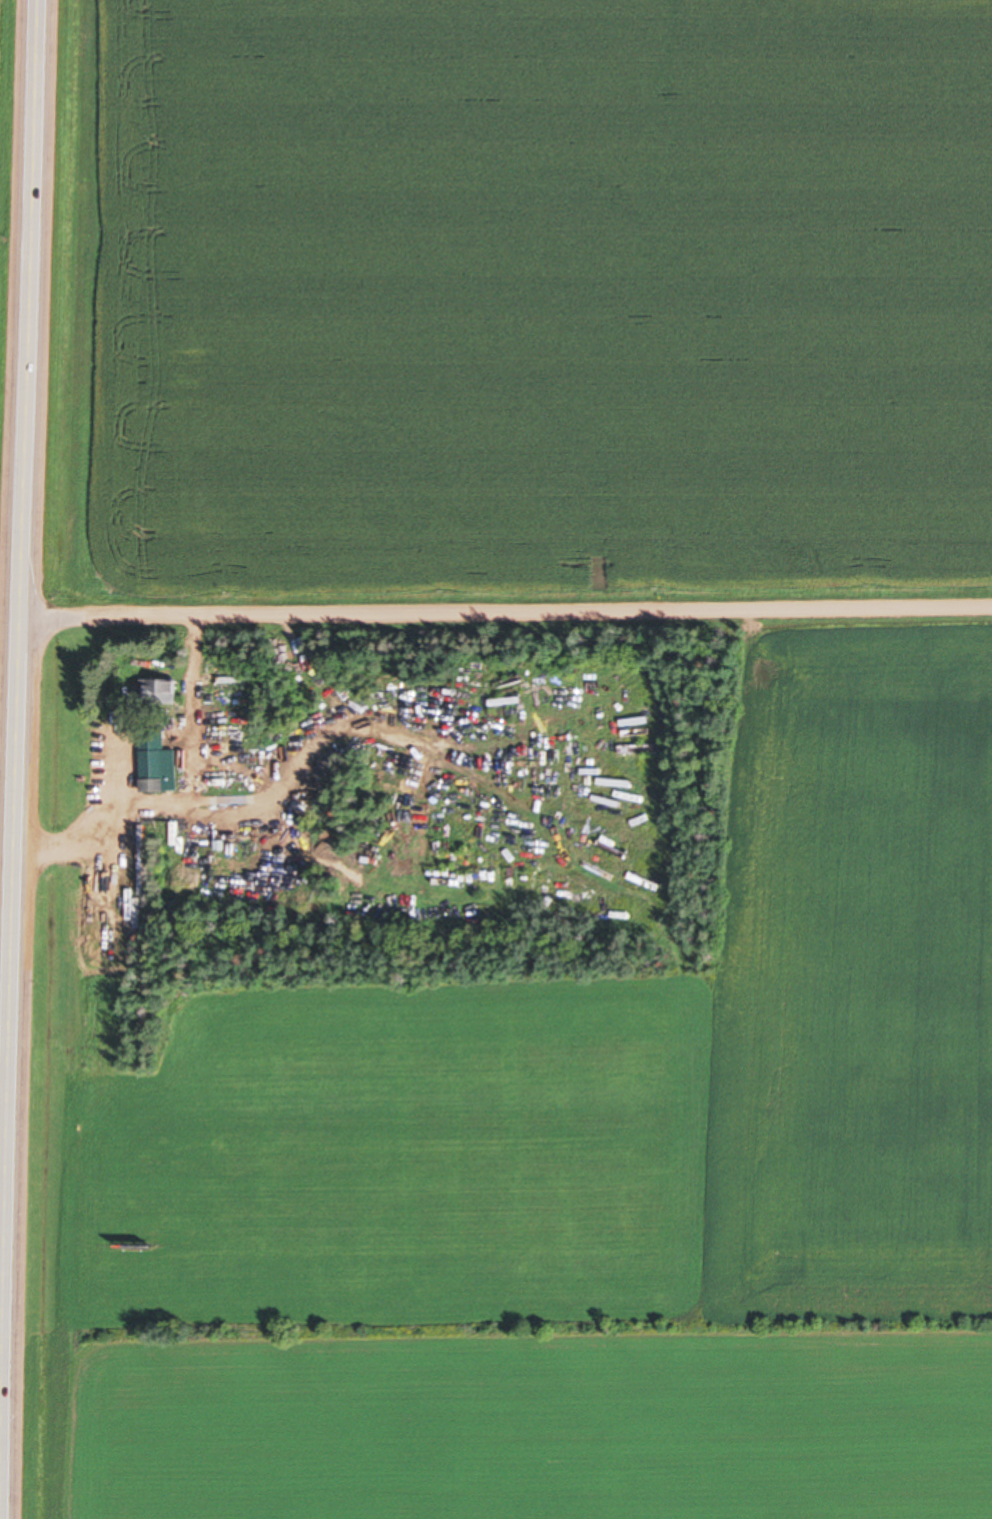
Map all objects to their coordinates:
road: (509, 614)
building: (164, 689)
building: (510, 690)
road: (22, 759)
building: (161, 767)

